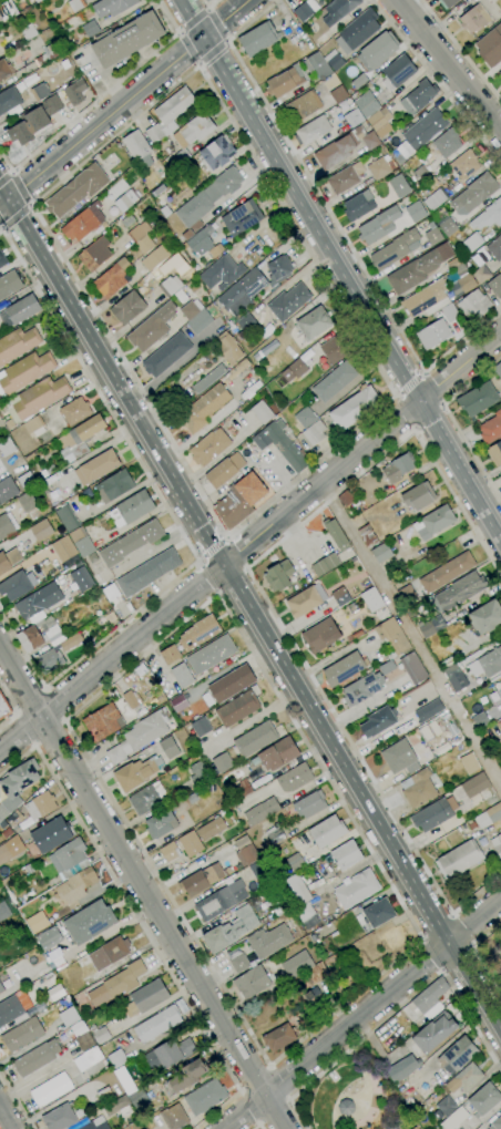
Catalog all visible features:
building: (34, 0)
building: (37, 0)
building: (207, 0)
building: (478, 0)
building: (449, 2)
building: (75, 4)
building: (345, 6)
building: (112, 7)
road: (211, 8)
building: (305, 9)
building: (7, 10)
road: (207, 11)
road: (209, 11)
road: (193, 18)
road: (226, 18)
building: (474, 19)
road: (194, 21)
road: (217, 24)
building: (90, 28)
road: (181, 31)
building: (357, 31)
building: (29, 32)
road: (181, 34)
traffic signals: (204, 37)
building: (126, 39)
road: (226, 39)
building: (258, 39)
road: (225, 42)
building: (491, 47)
road: (187, 49)
building: (48, 50)
building: (378, 50)
road: (459, 51)
road: (212, 52)
building: (334, 60)
road: (196, 63)
road: (200, 63)
building: (65, 64)
building: (316, 65)
road: (448, 66)
building: (4, 70)
building: (398, 72)
building: (500, 73)
building: (285, 81)
building: (359, 81)
road: (436, 81)
building: (39, 92)
building: (73, 92)
building: (419, 96)
road: (101, 97)
building: (315, 101)
building: (10, 102)
building: (367, 104)
building: (170, 113)
building: (354, 117)
road: (101, 121)
building: (381, 122)
building: (425, 129)
building: (311, 130)
building: (192, 134)
building: (447, 143)
building: (139, 147)
building: (344, 147)
building: (216, 153)
building: (400, 162)
building: (464, 165)
building: (380, 167)
road: (10, 173)
building: (421, 173)
road: (13, 174)
road: (3, 178)
building: (346, 178)
building: (431, 183)
building: (399, 185)
road: (21, 188)
building: (76, 191)
building: (476, 193)
building: (208, 198)
building: (436, 199)
traffic signals: (8, 201)
building: (124, 202)
road: (29, 204)
building: (359, 205)
road: (29, 207)
building: (416, 211)
building: (439, 213)
building: (488, 215)
road: (16, 216)
building: (242, 217)
building: (127, 220)
building: (83, 222)
road: (335, 222)
building: (379, 225)
road: (1, 227)
building: (448, 227)
road: (4, 228)
building: (139, 232)
building: (186, 235)
building: (433, 235)
building: (201, 242)
building: (472, 242)
building: (144, 244)
building: (495, 248)
building: (217, 249)
building: (395, 249)
building: (94, 254)
building: (463, 255)
building: (155, 257)
building: (2, 259)
building: (454, 263)
building: (418, 268)
building: (156, 273)
building: (222, 273)
building: (481, 274)
building: (113, 278)
building: (464, 279)
building: (9, 284)
building: (254, 285)
road: (352, 285)
building: (495, 285)
building: (170, 286)
building: (181, 296)
building: (427, 299)
building: (288, 301)
building: (474, 304)
building: (127, 307)
building: (0, 309)
building: (23, 309)
building: (191, 309)
building: (450, 312)
building: (200, 321)
building: (247, 322)
building: (314, 322)
building: (152, 327)
building: (433, 333)
building: (18, 343)
building: (228, 348)
building: (335, 349)
building: (166, 355)
building: (244, 363)
building: (498, 370)
building: (25, 371)
building: (290, 372)
building: (209, 379)
building: (335, 381)
building: (37, 398)
building: (478, 399)
building: (203, 408)
building: (355, 408)
building: (75, 410)
building: (262, 412)
building: (304, 419)
road: (452, 421)
building: (10, 424)
building: (34, 425)
building: (491, 429)
building: (314, 432)
building: (79, 439)
building: (280, 445)
building: (7, 447)
building: (209, 447)
building: (494, 453)
building: (30, 458)
building: (96, 468)
building: (399, 468)
building: (225, 470)
building: (44, 473)
building: (27, 481)
building: (113, 485)
building: (7, 490)
building: (418, 496)
building: (55, 497)
building: (346, 497)
building: (239, 500)
building: (27, 502)
building: (132, 509)
building: (67, 517)
road: (174, 517)
building: (434, 522)
building: (7, 525)
building: (41, 530)
building: (337, 534)
road: (228, 535)
building: (368, 535)
road: (249, 540)
building: (81, 542)
building: (131, 543)
building: (64, 551)
building: (381, 552)
building: (9, 560)
building: (325, 564)
building: (147, 572)
building: (447, 572)
building: (279, 575)
building: (81, 578)
building: (16, 586)
road: (219, 591)
building: (459, 592)
building: (406, 594)
building: (340, 596)
building: (370, 599)
road: (266, 602)
building: (304, 602)
building: (39, 603)
road: (248, 609)
building: (485, 617)
building: (431, 626)
road: (410, 632)
building: (197, 633)
building: (28, 634)
building: (321, 635)
building: (392, 637)
building: (72, 642)
building: (168, 654)
building: (211, 654)
building: (51, 660)
building: (491, 661)
building: (345, 668)
building: (413, 668)
building: (452, 674)
building: (182, 676)
building: (500, 679)
building: (500, 681)
building: (232, 684)
building: (366, 685)
building: (131, 699)
building: (4, 707)
road: (14, 707)
building: (237, 709)
building: (428, 710)
building: (480, 719)
building: (103, 721)
building: (379, 721)
building: (201, 727)
building: (451, 729)
building: (140, 735)
building: (255, 739)
road: (35, 745)
building: (170, 748)
building: (277, 753)
building: (400, 757)
building: (222, 762)
building: (469, 762)
building: (137, 772)
building: (198, 773)
building: (255, 774)
building: (294, 778)
building: (19, 779)
building: (476, 784)
building: (243, 788)
building: (419, 788)
building: (147, 798)
building: (192, 798)
building: (310, 804)
building: (8, 809)
building: (34, 809)
building: (262, 811)
building: (432, 814)
building: (489, 815)
building: (161, 823)
building: (471, 824)
building: (17, 829)
building: (211, 829)
building: (327, 831)
building: (7, 832)
building: (51, 835)
building: (274, 837)
building: (482, 841)
building: (190, 843)
building: (497, 843)
building: (10, 849)
building: (245, 851)
building: (170, 852)
building: (273, 853)
building: (347, 855)
building: (69, 859)
building: (459, 859)
building: (295, 862)
building: (30, 868)
building: (260, 874)
building: (202, 879)
building: (4, 881)
building: (76, 885)
building: (357, 889)
road: (142, 890)
building: (295, 891)
building: (10, 895)
building: (221, 899)
building: (10, 904)
building: (3, 911)
building: (378, 913)
building: (307, 915)
building: (264, 921)
building: (37, 922)
building: (90, 922)
road: (140, 923)
building: (231, 930)
building: (48, 937)
road: (420, 937)
building: (269, 941)
building: (110, 953)
road: (478, 956)
building: (58, 958)
building: (238, 961)
building: (297, 965)
road: (442, 971)
building: (500, 971)
building: (318, 973)
building: (252, 982)
building: (117, 983)
building: (1, 988)
building: (57, 993)
building: (311, 994)
building: (145, 998)
building: (430, 998)
building: (14, 1006)
road: (397, 1009)
road: (362, 1014)
building: (69, 1017)
building: (157, 1025)
building: (434, 1032)
building: (22, 1034)
building: (100, 1034)
building: (279, 1037)
building: (84, 1040)
building: (174, 1051)
building: (93, 1055)
building: (457, 1055)
building: (116, 1058)
building: (33, 1059)
building: (402, 1068)
building: (186, 1076)
building: (464, 1078)
building: (51, 1089)
park: (351, 1095)
building: (105, 1096)
building: (137, 1097)
building: (205, 1097)
building: (484, 1099)
road: (16, 1100)
building: (446, 1106)
building: (117, 1107)
building: (346, 1107)
building: (174, 1117)
building: (59, 1118)
building: (454, 1118)
road: (4, 1119)
building: (91, 1123)
building: (495, 1123)
road: (258, 1125)
road: (258, 1126)
building: (415, 1127)

